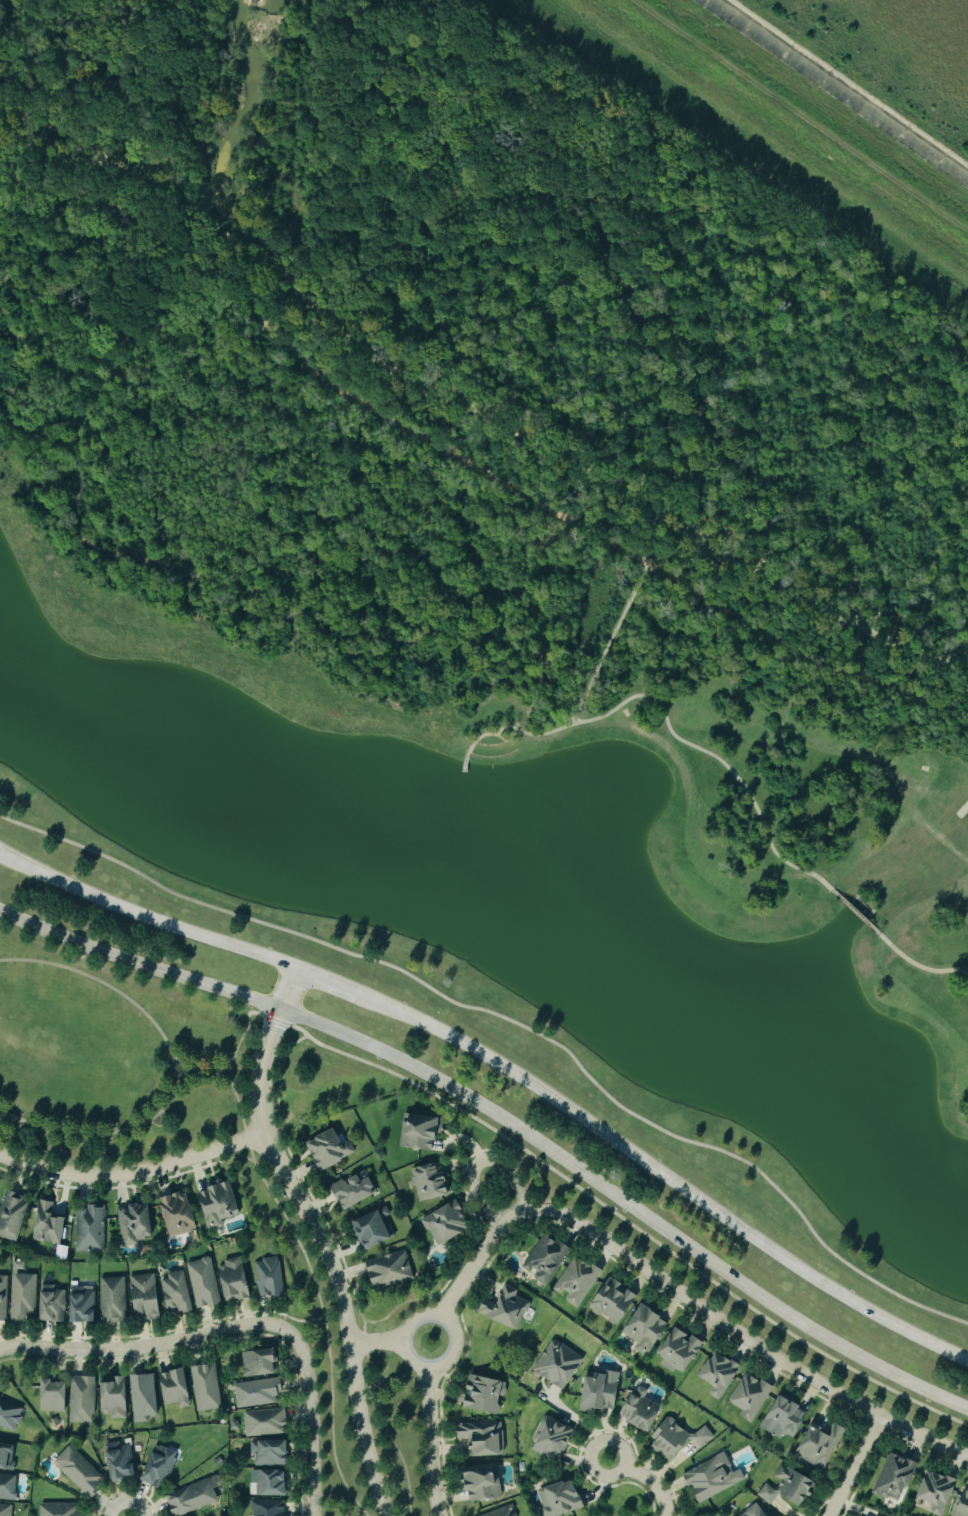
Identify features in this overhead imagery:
river: (469, 402)
road: (471, 460)
road: (614, 643)
road: (504, 737)
road: (685, 739)
road: (475, 743)
road: (859, 913)
road: (146, 918)
road: (921, 965)
road: (327, 979)
road: (513, 1022)
road: (232, 1059)
park: (120, 1060)
road: (172, 1064)
road: (192, 1070)
road: (211, 1070)
road: (202, 1071)
road: (504, 1119)
road: (8, 1120)
building: (420, 1132)
building: (328, 1149)
road: (481, 1163)
road: (134, 1173)
road: (662, 1173)
building: (429, 1183)
building: (354, 1190)
building: (218, 1203)
building: (179, 1214)
building: (11, 1215)
road: (624, 1220)
building: (48, 1224)
building: (134, 1224)
building: (446, 1224)
building: (89, 1229)
building: (371, 1230)
road: (319, 1237)
building: (546, 1259)
building: (389, 1270)
building: (268, 1278)
building: (233, 1280)
building: (577, 1281)
building: (203, 1283)
building: (176, 1293)
road: (685, 1295)
building: (21, 1296)
building: (144, 1297)
building: (2, 1298)
building: (113, 1300)
building: (614, 1302)
building: (52, 1304)
building: (83, 1304)
building: (505, 1308)
building: (646, 1329)
road: (376, 1343)
road: (145, 1347)
building: (679, 1351)
road: (413, 1362)
building: (258, 1363)
building: (559, 1365)
building: (720, 1375)
building: (175, 1388)
building: (205, 1388)
building: (257, 1392)
building: (600, 1392)
building: (484, 1395)
building: (53, 1396)
building: (749, 1396)
building: (113, 1397)
building: (143, 1397)
building: (82, 1399)
building: (640, 1411)
building: (9, 1416)
building: (784, 1418)
road: (311, 1420)
building: (264, 1423)
road: (580, 1423)
building: (552, 1438)
building: (482, 1439)
building: (678, 1439)
road: (432, 1442)
building: (820, 1445)
building: (269, 1453)
building: (7, 1456)
building: (121, 1461)
road: (856, 1466)
building: (159, 1467)
building: (78, 1472)
building: (713, 1477)
road: (648, 1478)
building: (895, 1478)
building: (483, 1483)
building: (268, 1484)
building: (8, 1486)
building: (789, 1488)
building: (938, 1493)
building: (193, 1497)
building: (560, 1499)
building: (268, 1508)
building: (59, 1509)
building: (5, 1510)
building: (756, 1511)
building: (501, 1512)

